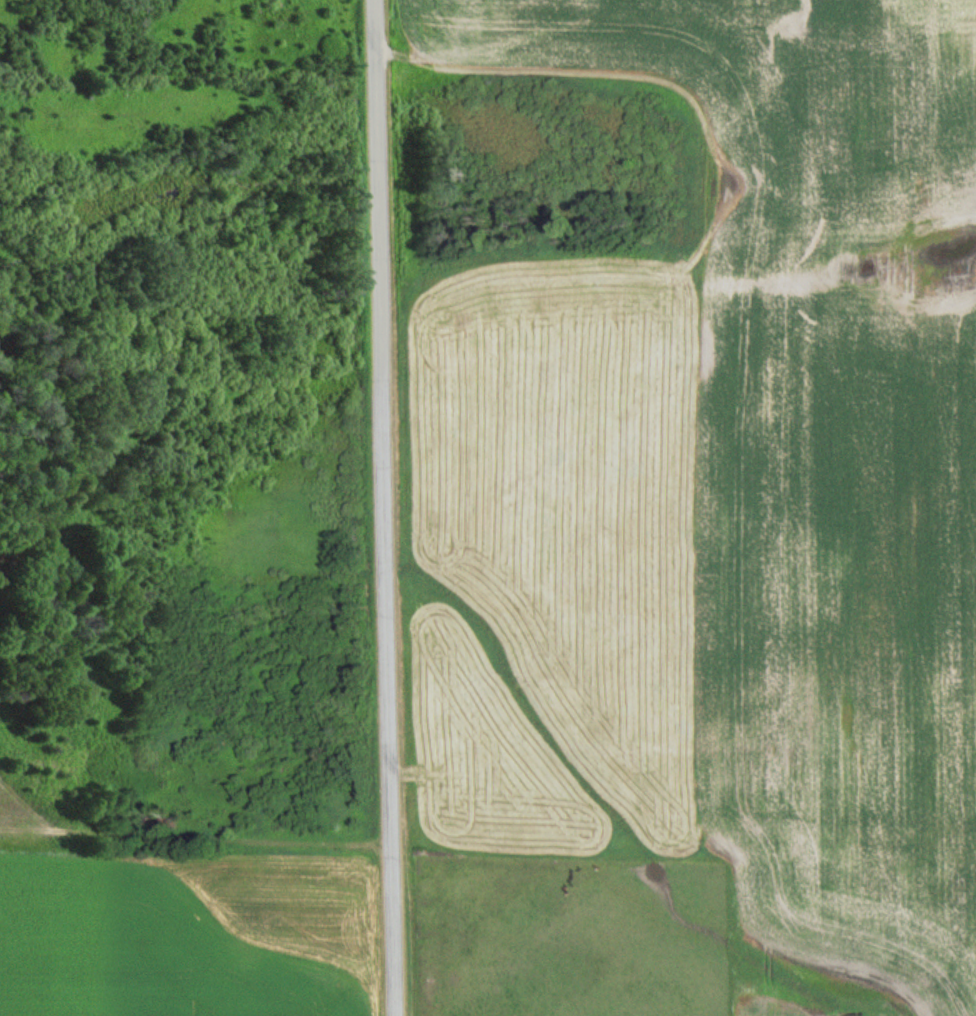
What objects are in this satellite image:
road: (386, 507)
road: (196, 829)

